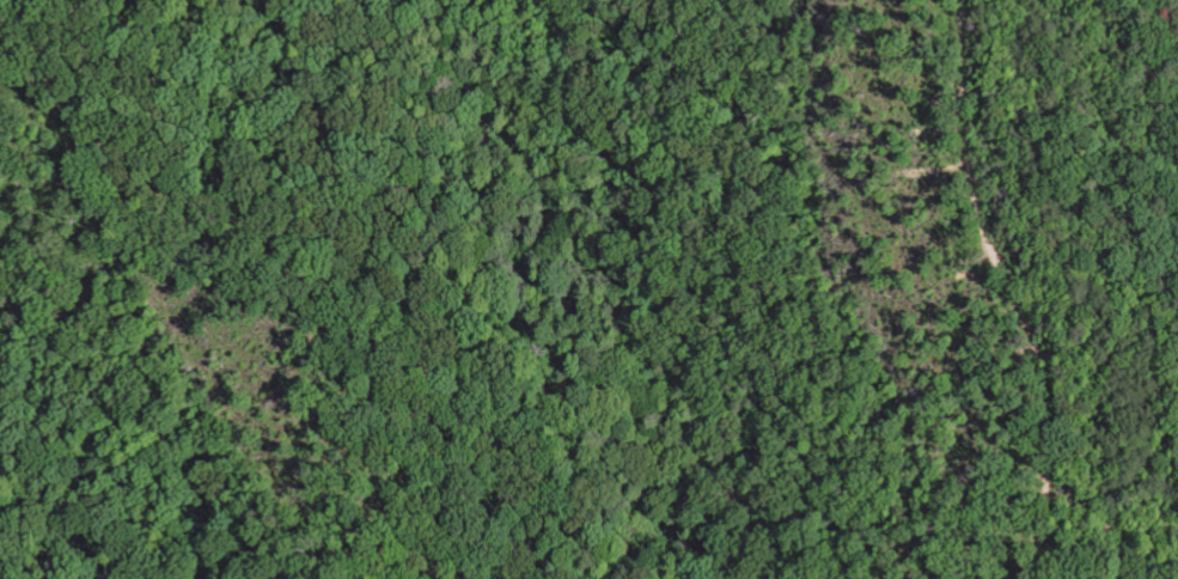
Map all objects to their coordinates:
road: (1009, 289)

